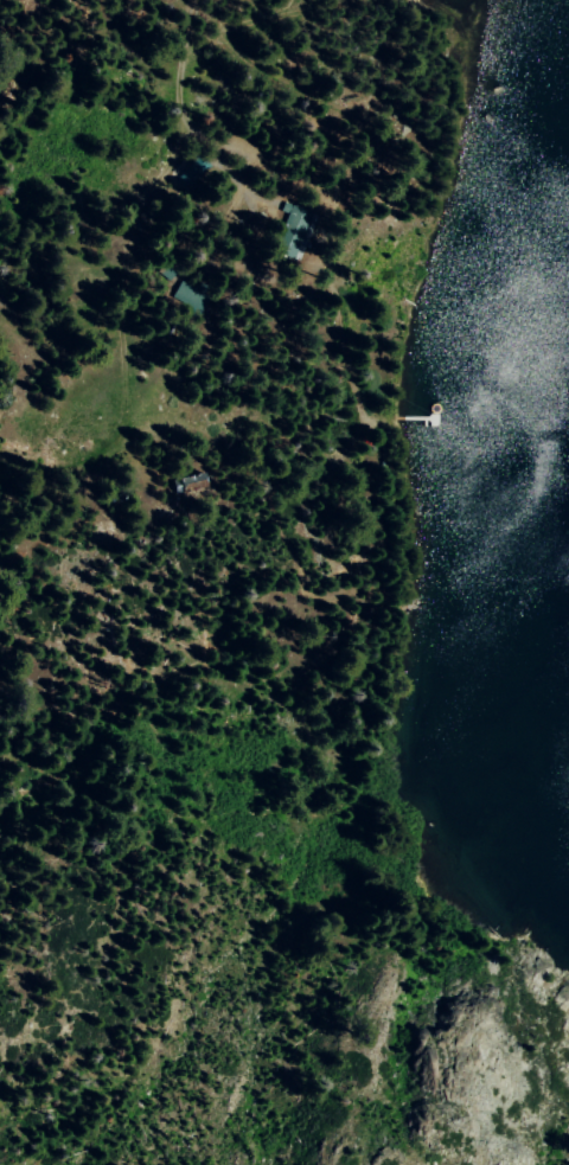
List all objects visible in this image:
road: (133, 49)
road: (210, 153)
building: (191, 171)
road: (147, 188)
building: (289, 229)

